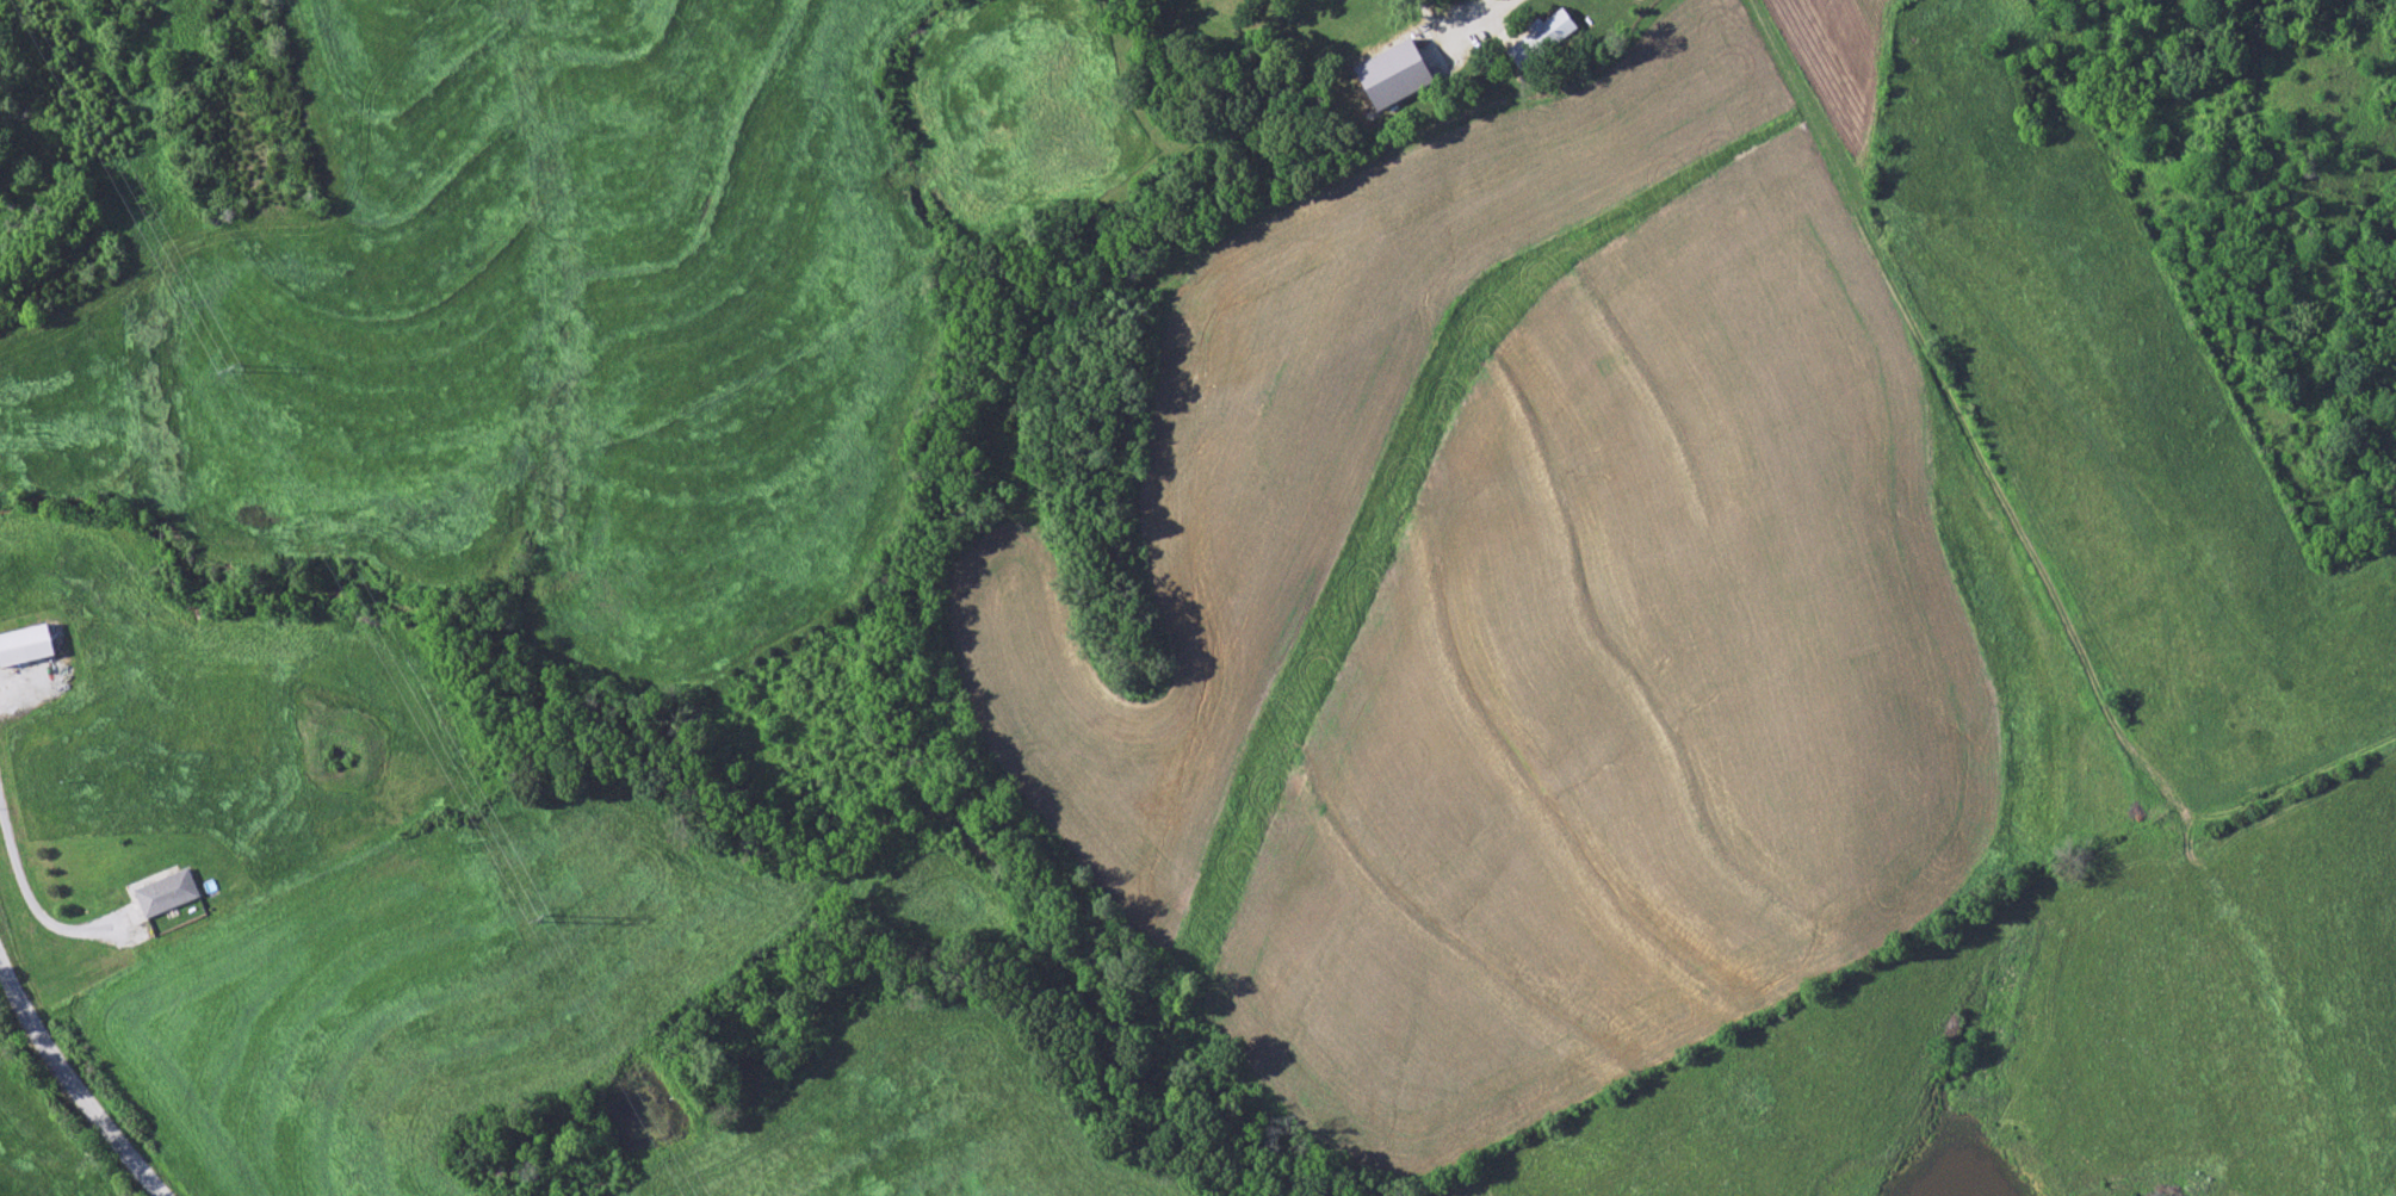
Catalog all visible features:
road: (1497, 7)
power tower: (230, 372)
power tower: (541, 921)
road: (81, 1064)

